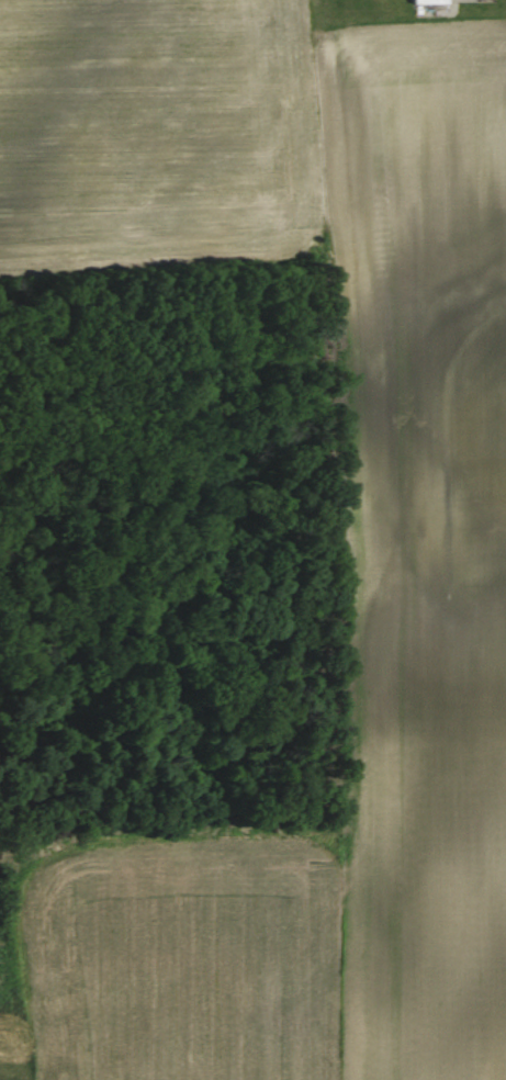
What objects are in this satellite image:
building: (435, 1)

